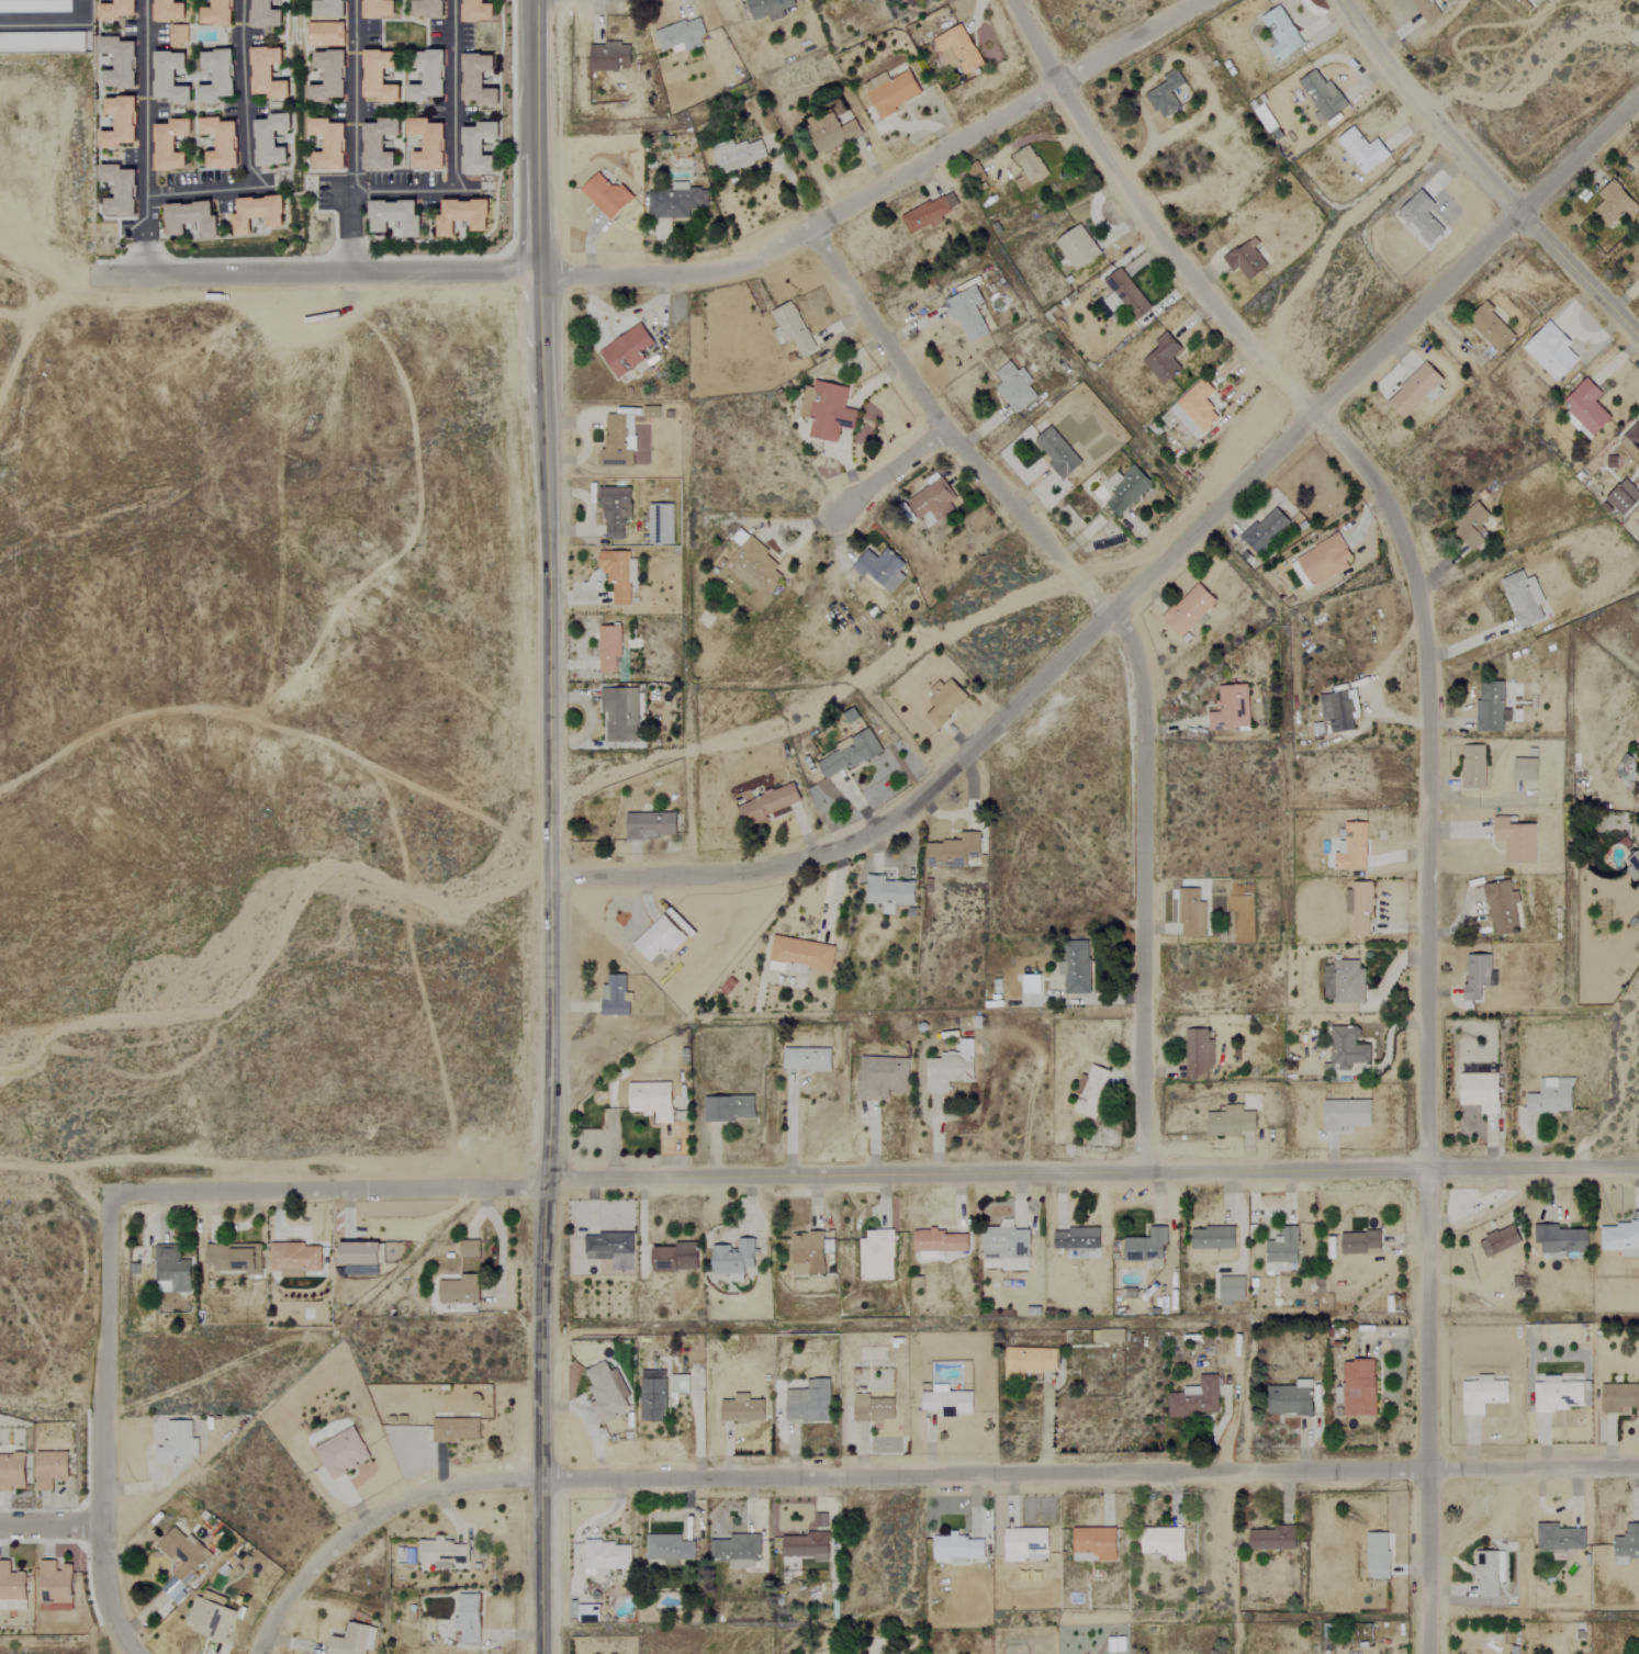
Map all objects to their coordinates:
building: (35, 7)
building: (328, 9)
building: (428, 9)
building: (767, 9)
building: (378, 10)
building: (1427, 10)
building: (116, 11)
building: (168, 11)
building: (478, 12)
building: (217, 14)
building: (265, 15)
building: (1282, 34)
building: (178, 35)
building: (325, 35)
building: (681, 36)
street lamp: (513, 42)
building: (958, 49)
building: (608, 57)
building: (119, 64)
building: (268, 75)
building: (217, 77)
building: (328, 77)
building: (379, 78)
building: (428, 78)
building: (169, 79)
building: (479, 81)
building: (893, 94)
building: (1166, 94)
building: (1323, 97)
building: (119, 124)
road: (535, 134)
road: (353, 135)
building: (831, 135)
road: (143, 137)
building: (272, 142)
building: (221, 144)
building: (379, 145)
building: (428, 145)
building: (169, 146)
road: (245, 146)
building: (328, 146)
building: (479, 149)
building: (1362, 151)
building: (738, 155)
road: (456, 158)
building: (1029, 168)
road: (1482, 173)
road: (884, 187)
building: (119, 192)
building: (606, 196)
building: (676, 202)
building: (1613, 204)
building: (258, 212)
building: (929, 213)
building: (395, 215)
building: (463, 215)
building: (191, 217)
building: (1421, 218)
street lamp: (513, 240)
building: (1077, 247)
building: (1246, 260)
road: (318, 270)
building: (1129, 293)
building: (967, 313)
building: (793, 327)
building: (1491, 328)
building: (626, 350)
building: (1550, 351)
building: (1164, 358)
building: (1014, 386)
building: (1416, 390)
building: (1195, 408)
building: (1585, 408)
building: (827, 409)
building: (619, 441)
building: (1631, 441)
building: (1058, 452)
road: (887, 473)
building: (1126, 490)
building: (1624, 497)
building: (933, 500)
building: (615, 509)
building: (660, 524)
building: (1265, 529)
building: (1470, 533)
building: (1246, 552)
building: (1322, 561)
building: (754, 565)
building: (880, 569)
building: (618, 574)
road: (1141, 581)
building: (1525, 598)
building: (1189, 609)
road: (1131, 646)
building: (608, 648)
building: (945, 702)
building: (1492, 707)
building: (1231, 708)
building: (1341, 710)
building: (620, 713)
building: (1323, 728)
building: (850, 754)
road: (1427, 760)
building: (1473, 767)
building: (1525, 769)
building: (768, 803)
building: (650, 825)
building: (1516, 841)
building: (1354, 847)
building: (954, 852)
building: (1636, 859)
building: (889, 893)
building: (1360, 908)
building: (1502, 908)
building: (1191, 913)
building: (659, 938)
building: (799, 956)
road: (548, 960)
building: (1076, 967)
building: (1480, 979)
building: (1344, 982)
building: (1033, 983)
building: (727, 986)
building: (616, 997)
building: (1347, 1048)
building: (1198, 1055)
building: (808, 1059)
building: (953, 1068)
building: (884, 1077)
building: (1481, 1091)
building: (1092, 1092)
building: (1551, 1096)
building: (651, 1101)
building: (729, 1109)
building: (1347, 1114)
building: (1232, 1122)
road: (792, 1126)
road: (57, 1170)
road: (1092, 1173)
road: (328, 1191)
building: (1212, 1237)
building: (1076, 1238)
building: (1561, 1238)
building: (1620, 1238)
building: (1500, 1240)
building: (938, 1242)
building: (1360, 1242)
building: (606, 1245)
building: (1145, 1247)
building: (469, 1248)
building: (812, 1250)
building: (1283, 1251)
building: (359, 1252)
building: (877, 1254)
building: (232, 1256)
building: (676, 1257)
building: (294, 1259)
building: (736, 1259)
building: (171, 1268)
building: (361, 1269)
building: (460, 1290)
building: (1231, 1290)
building: (1112, 1336)
building: (1029, 1361)
building: (1358, 1387)
building: (607, 1391)
building: (1483, 1394)
building: (1558, 1394)
building: (654, 1395)
building: (1619, 1396)
building: (1290, 1398)
building: (1197, 1399)
building: (809, 1402)
building: (947, 1403)
building: (742, 1408)
building: (873, 1408)
road: (104, 1429)
building: (454, 1429)
building: (177, 1442)
building: (343, 1452)
building: (49, 1469)
building: (11, 1471)
road: (911, 1474)
building: (820, 1520)
road: (52, 1523)
building: (1273, 1538)
building: (1560, 1538)
building: (1024, 1542)
building: (1164, 1542)
building: (1094, 1543)
building: (806, 1545)
building: (1627, 1545)
building: (669, 1548)
building: (957, 1548)
building: (741, 1550)
building: (441, 1552)
building: (1378, 1554)
building: (606, 1556)
building: (1489, 1573)
building: (54, 1586)
building: (11, 1588)
building: (210, 1617)
building: (469, 1618)
building: (352, 1640)

